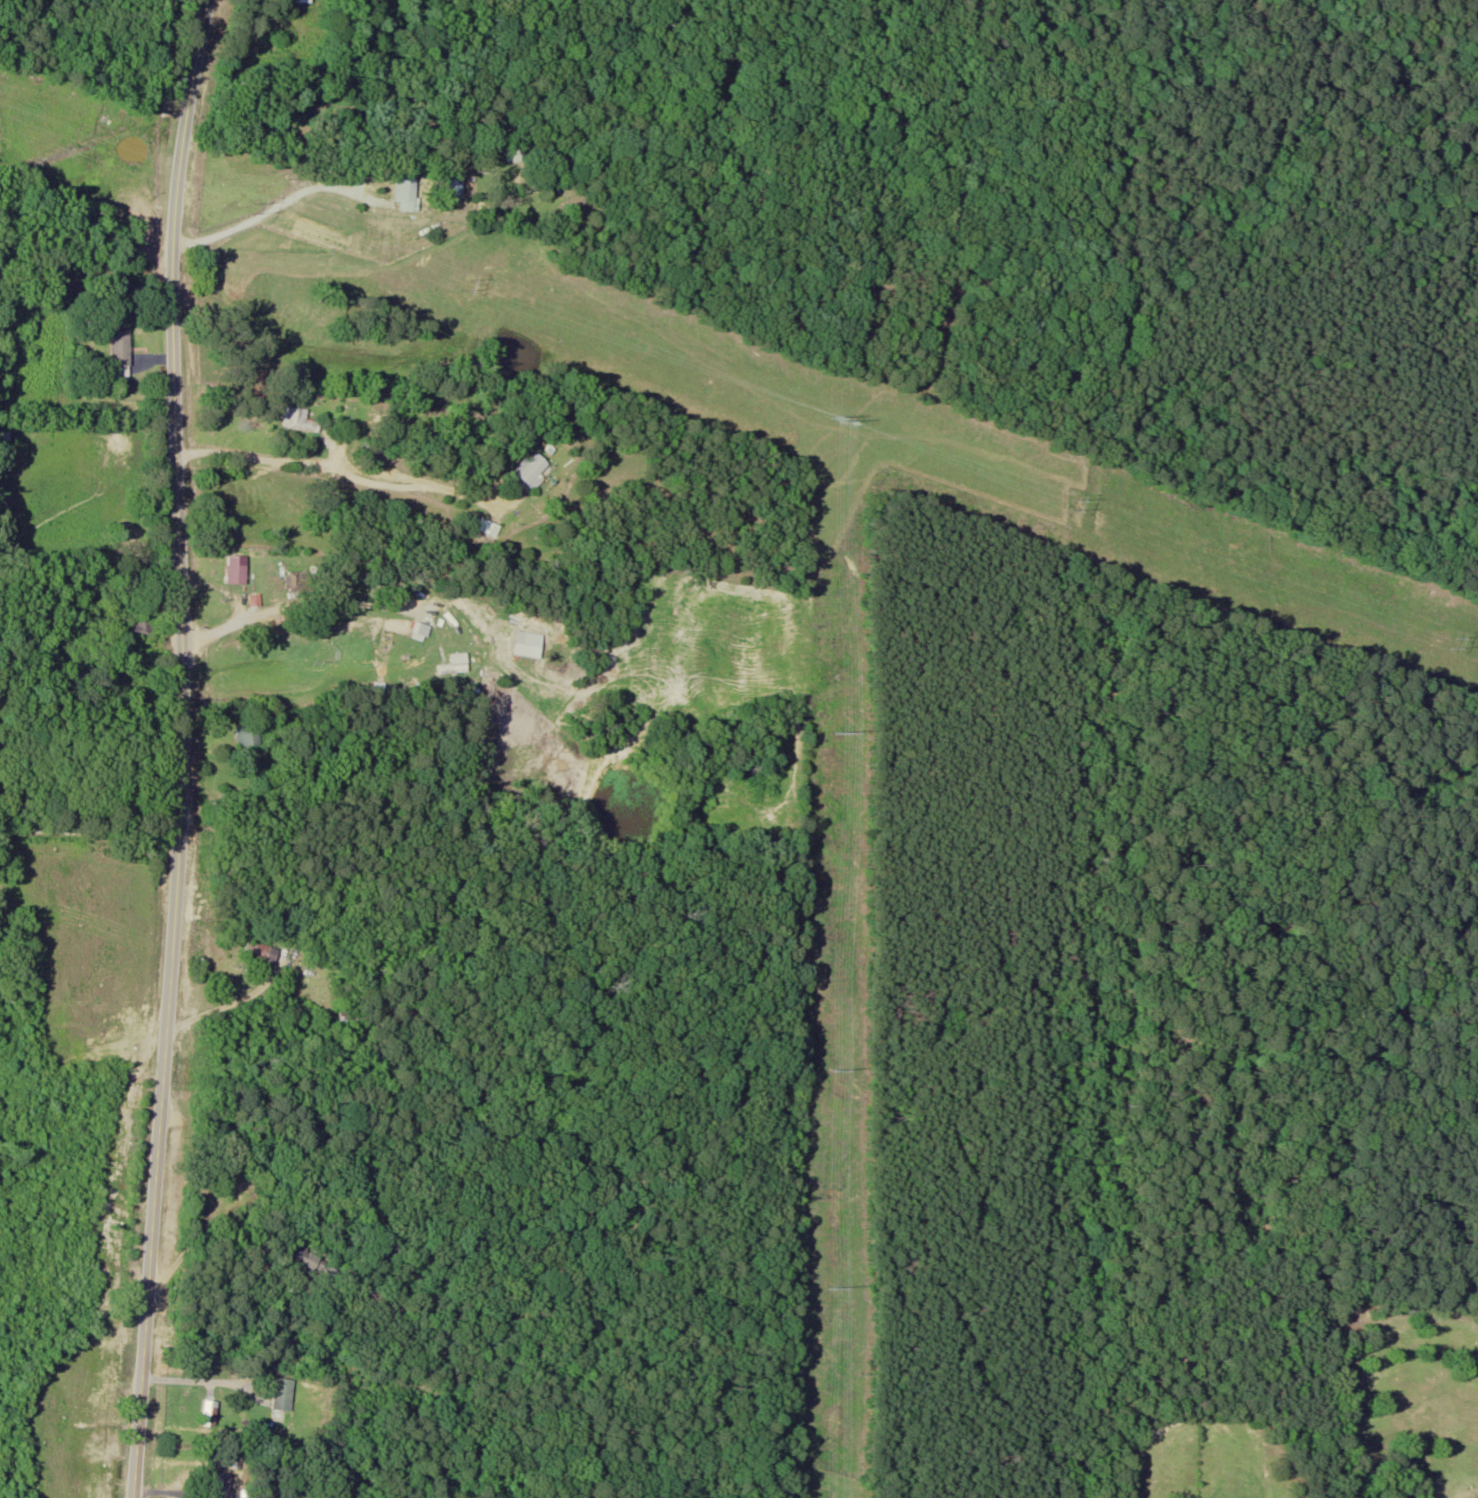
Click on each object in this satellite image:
building: (516, 153)
building: (449, 187)
building: (408, 192)
power tower: (252, 206)
building: (122, 349)
building: (302, 420)
building: (535, 469)
power tower: (1064, 508)
building: (485, 525)
road: (329, 555)
building: (238, 570)
building: (141, 626)
building: (421, 632)
building: (453, 636)
building: (250, 736)
road: (182, 748)
road: (89, 834)
building: (264, 953)
building: (350, 1021)
building: (395, 1311)
building: (278, 1387)
building: (211, 1414)
road: (237, 1473)
building: (223, 1486)

